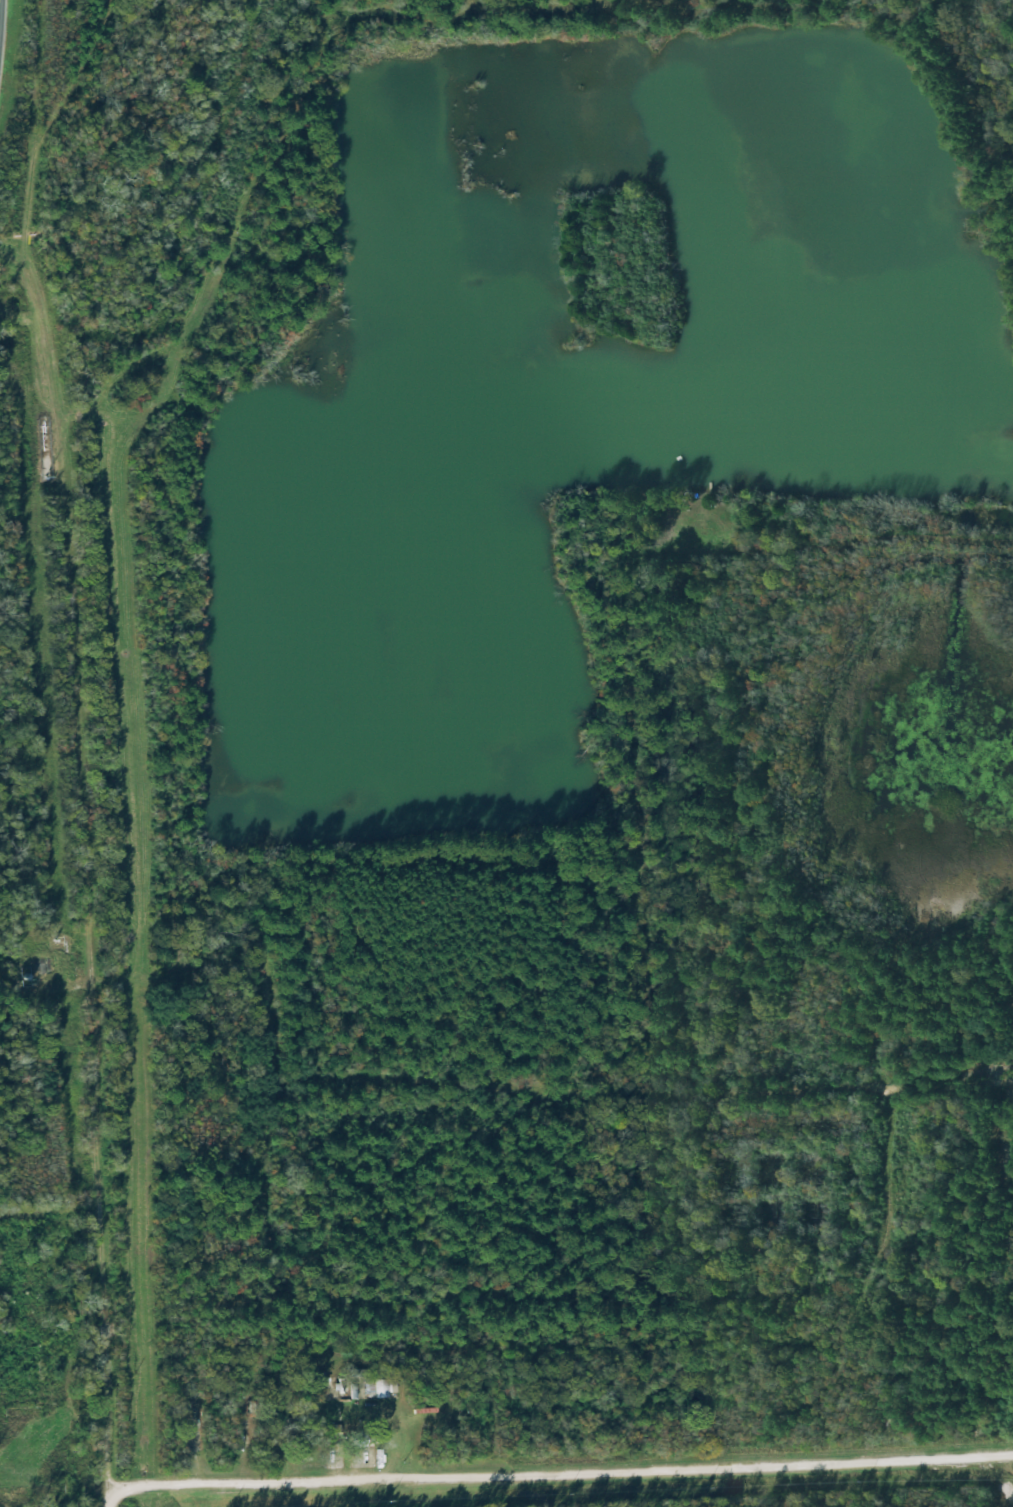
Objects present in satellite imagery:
road: (629, 815)
road: (87, 869)
road: (564, 1351)
road: (562, 1472)
road: (221, 1496)

